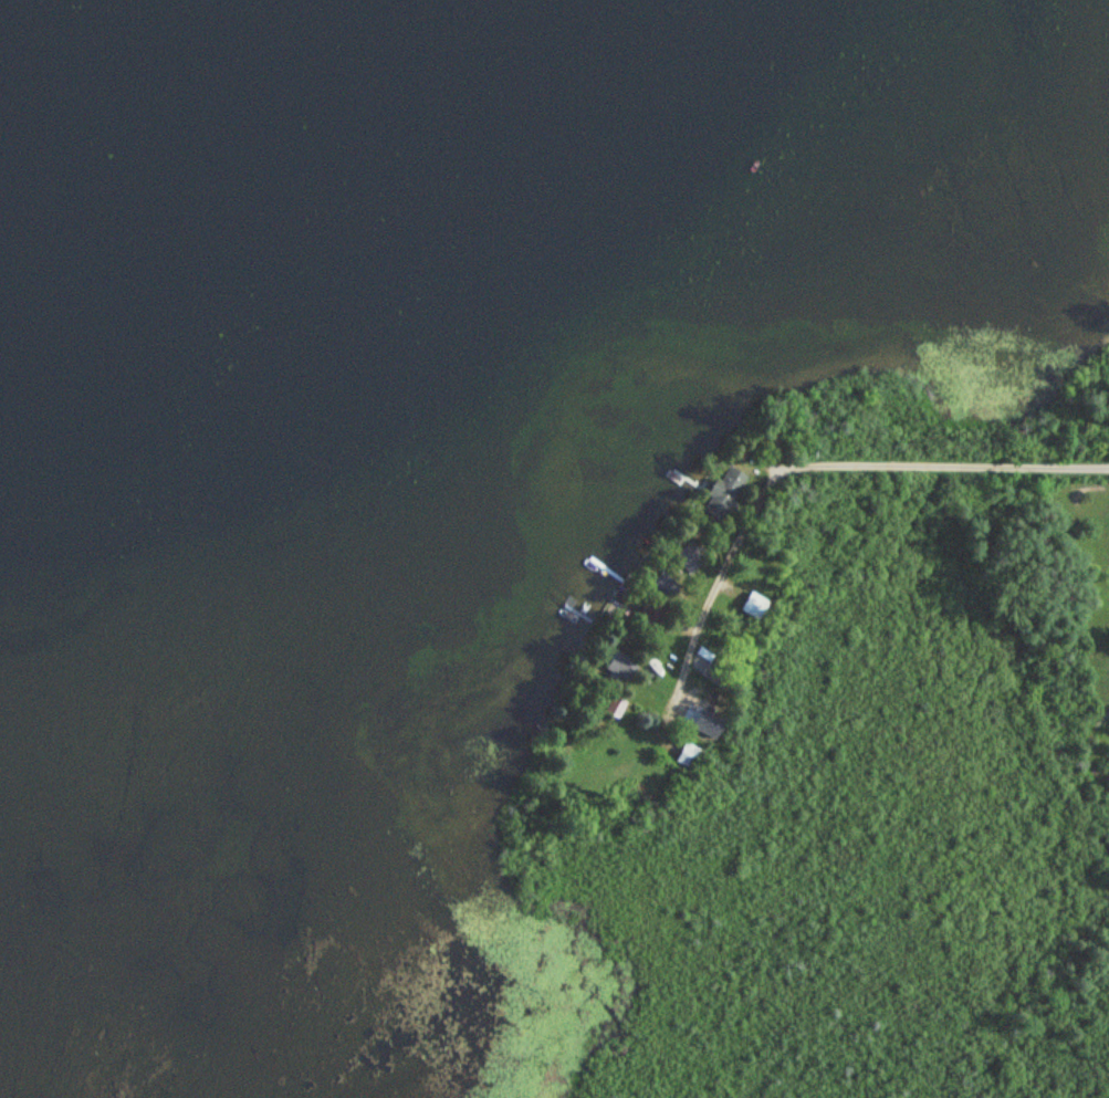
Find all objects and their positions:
road: (857, 463)
building: (723, 492)
building: (684, 561)
building: (667, 586)
building: (755, 606)
building: (618, 665)
building: (608, 707)
building: (709, 724)
building: (688, 755)

